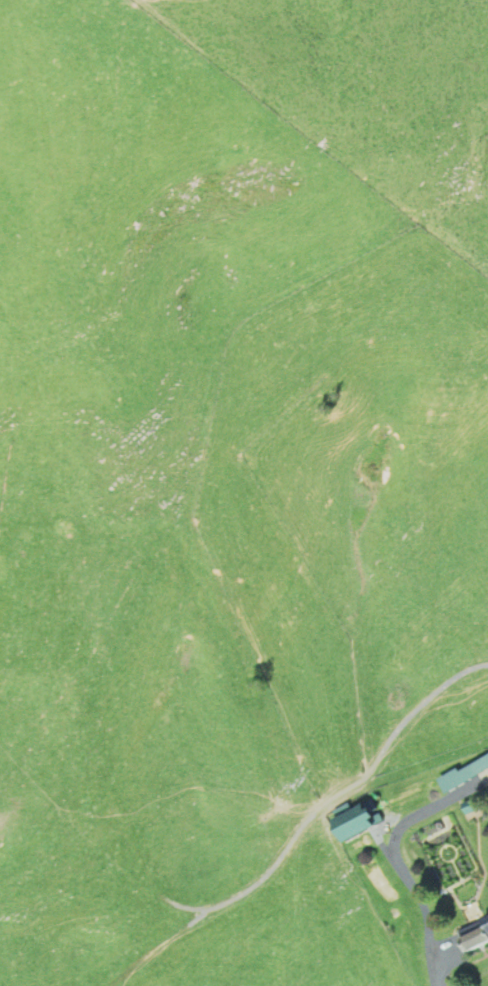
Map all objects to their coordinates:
building: (464, 772)
building: (348, 822)
road: (399, 865)
building: (473, 937)

